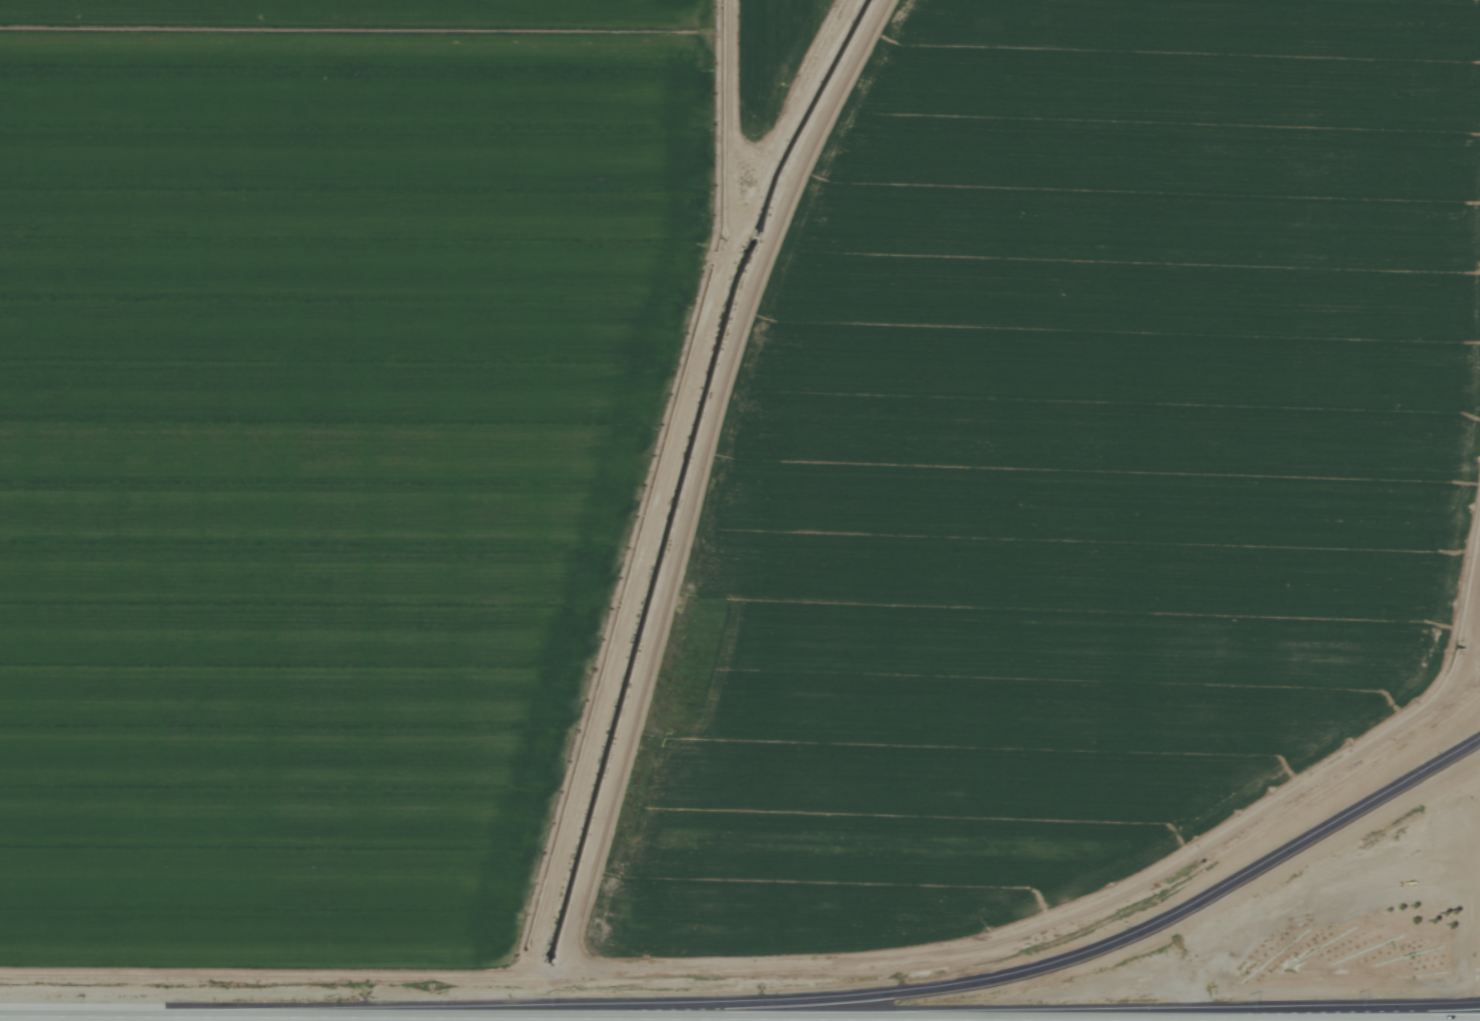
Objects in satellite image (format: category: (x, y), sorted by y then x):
road: (972, 983)
road: (1390, 1011)
road: (740, 1017)

